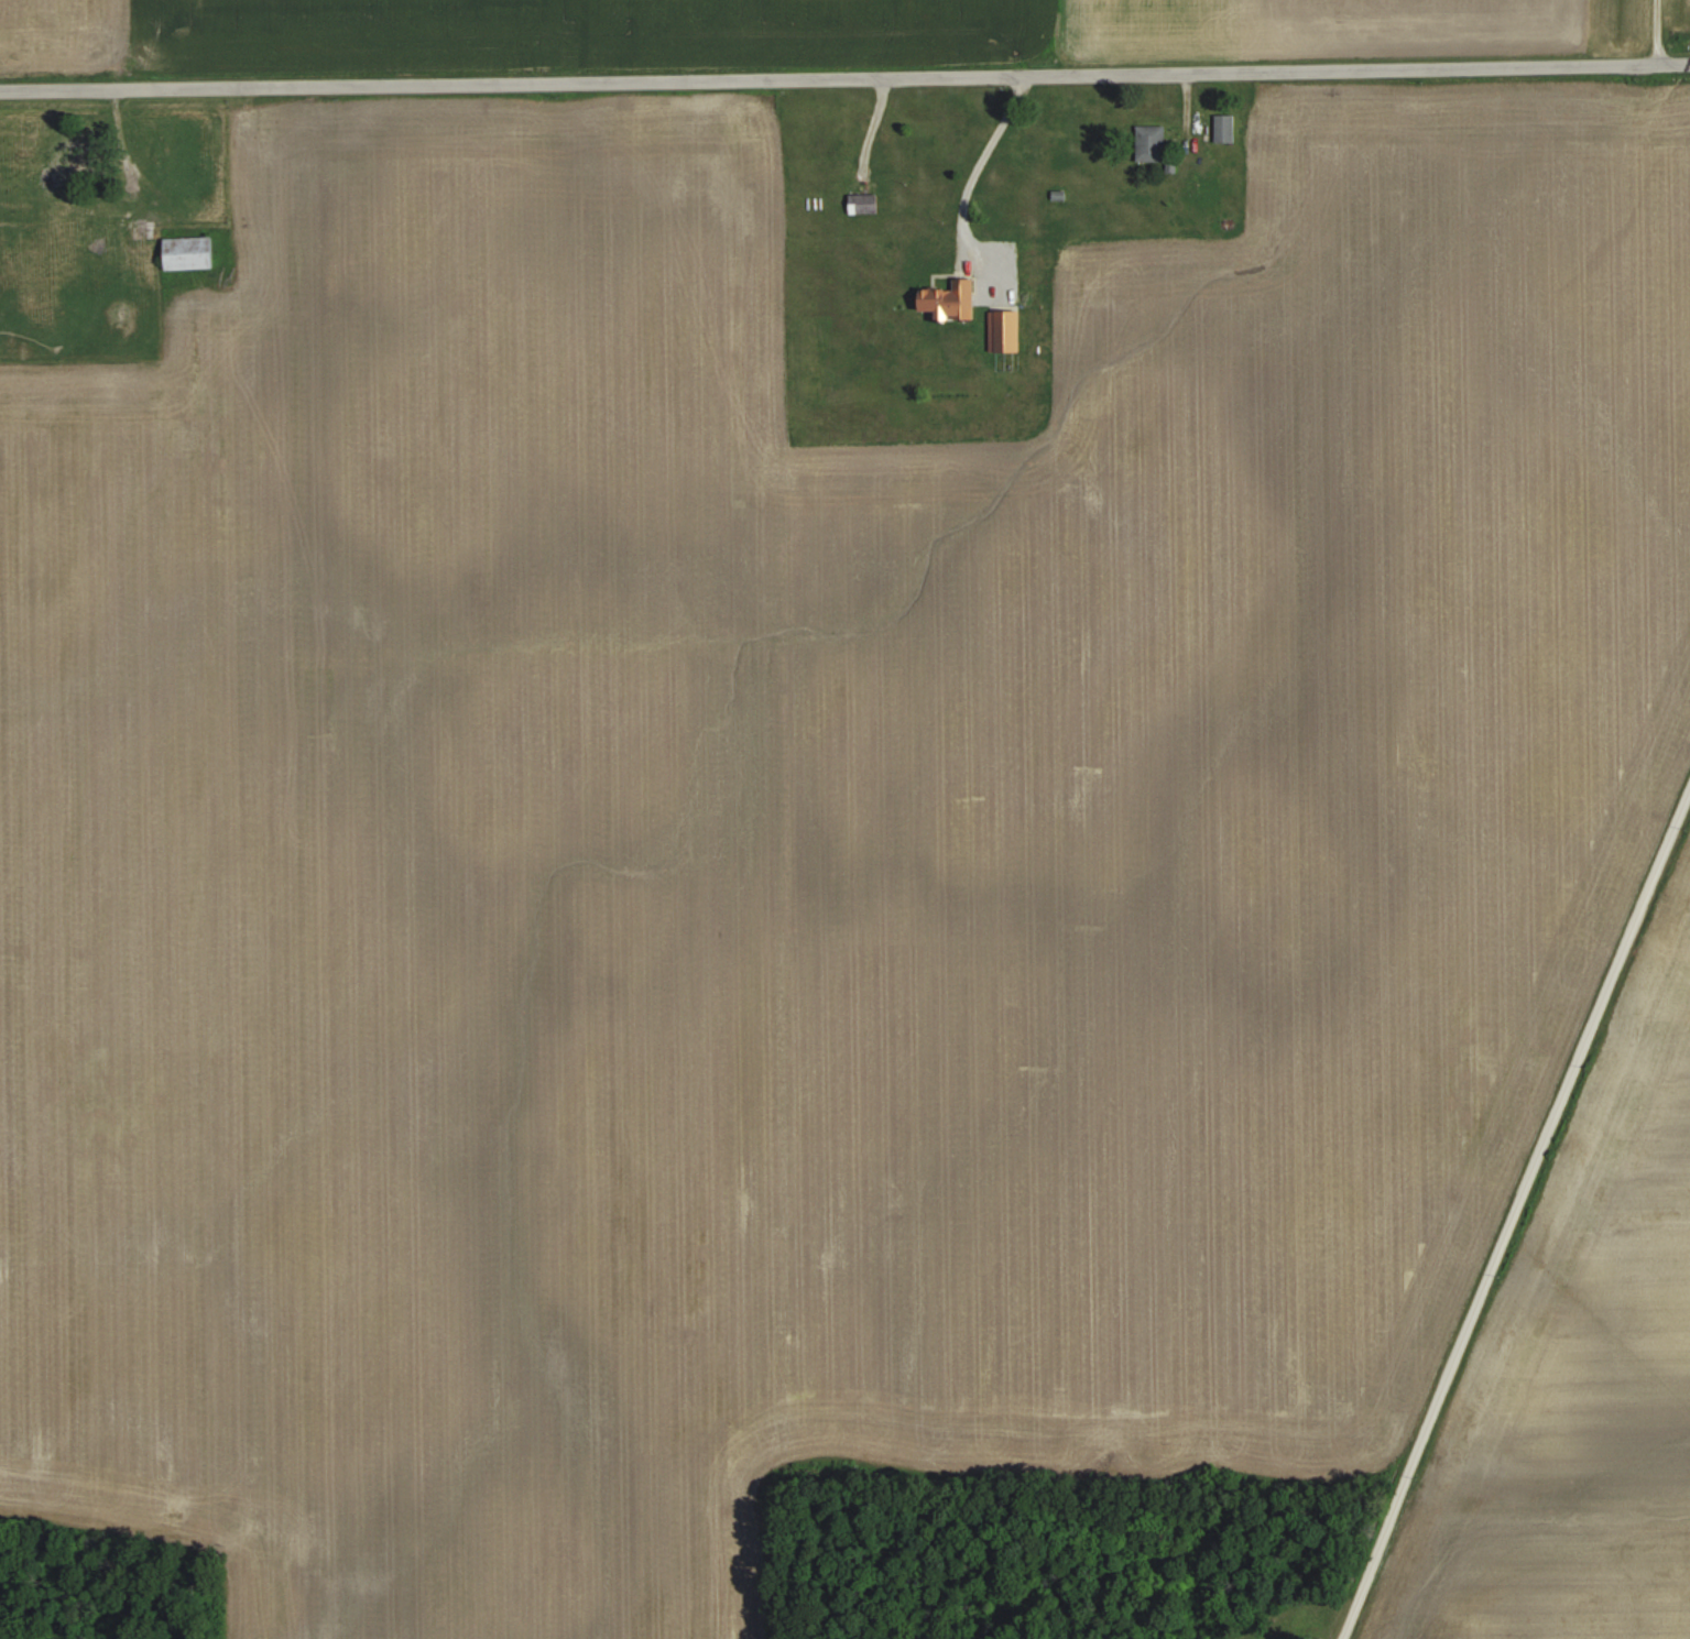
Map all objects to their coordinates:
road: (1657, 30)
road: (844, 77)
building: (1222, 128)
building: (1148, 142)
building: (79, 151)
road: (980, 162)
building: (861, 203)
building: (142, 227)
building: (185, 251)
building: (946, 299)
road: (1516, 1219)

